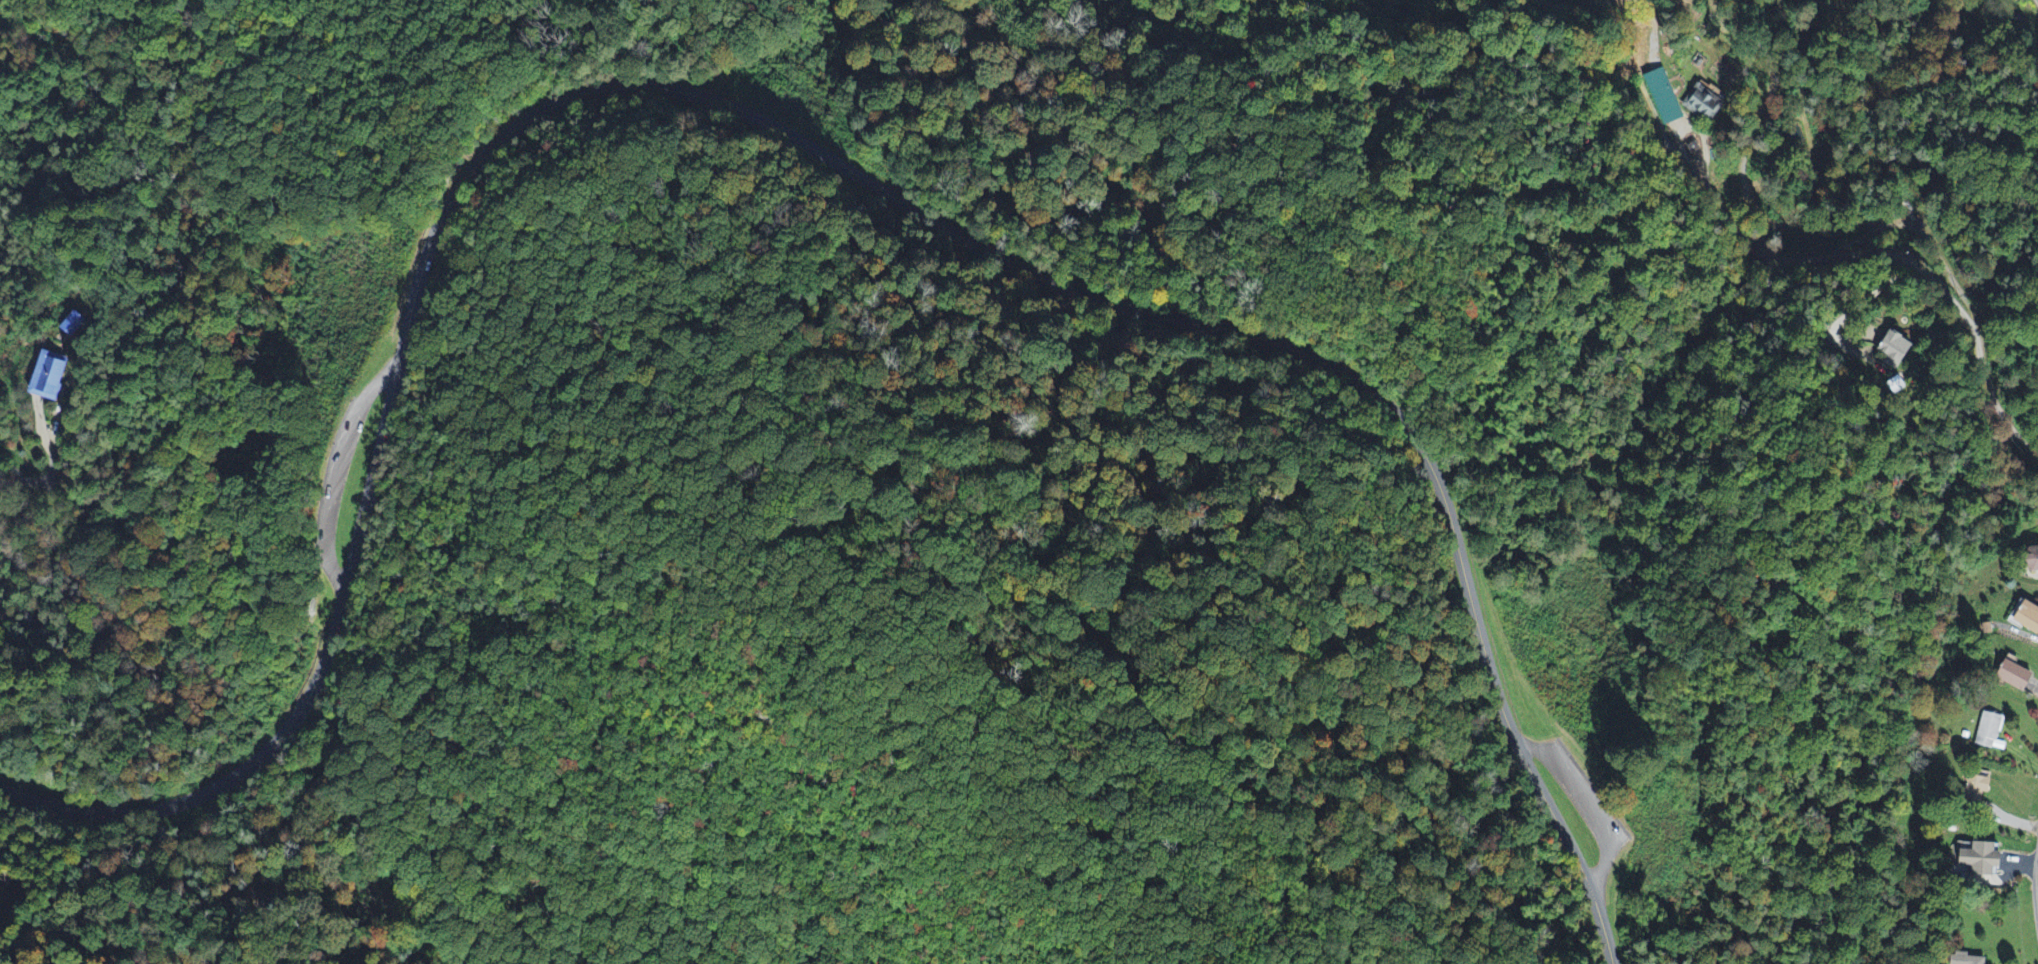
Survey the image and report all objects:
road: (792, 139)
road: (1951, 274)
building: (74, 324)
building: (1894, 349)
building: (51, 377)
road: (279, 486)
road: (39, 515)
parking lot: (257, 522)
road: (952, 531)
building: (2025, 617)
building: (2014, 674)
building: (1989, 729)
road: (1577, 793)
parking lot: (1581, 804)
building: (1981, 865)
building: (1967, 959)
road: (13, 960)

